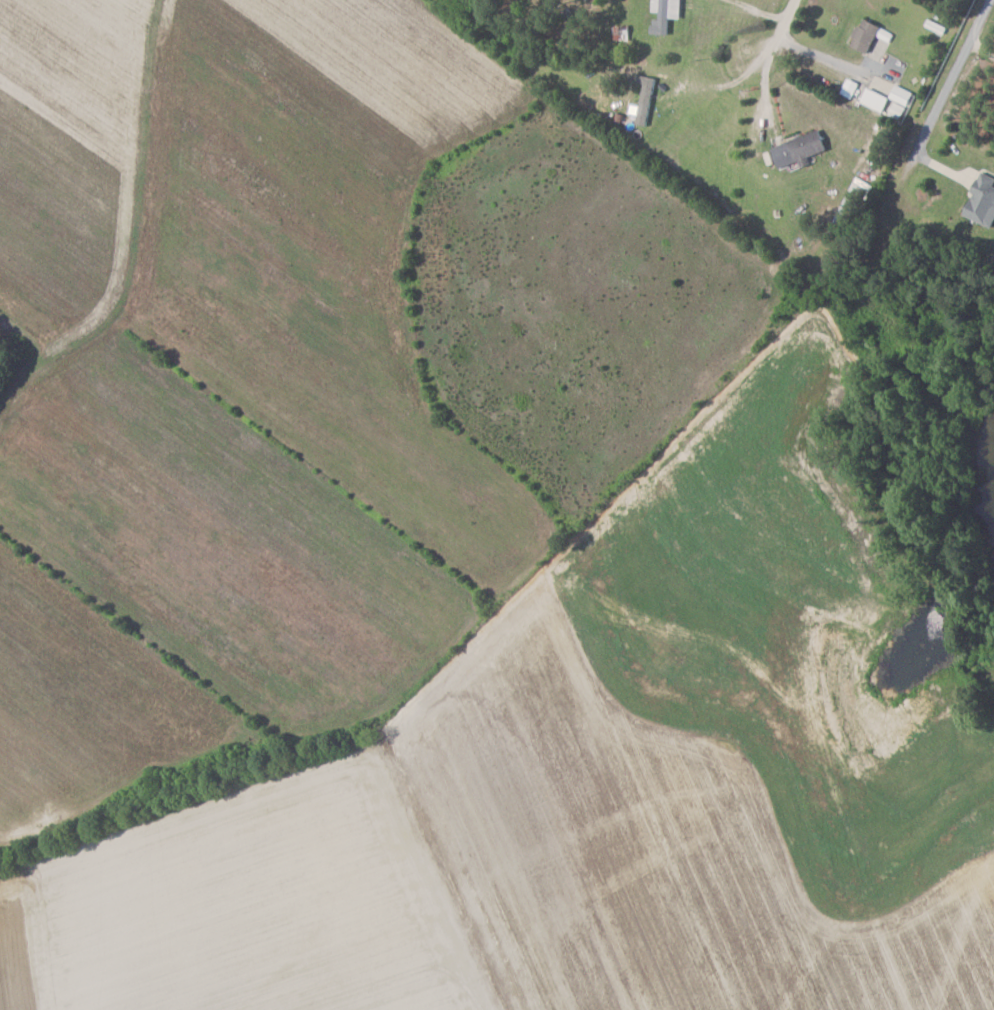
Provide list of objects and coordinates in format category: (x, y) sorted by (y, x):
building: (666, 15)
building: (867, 35)
road: (981, 49)
road: (769, 52)
road: (953, 76)
building: (646, 99)
building: (889, 100)
building: (802, 149)
building: (983, 201)

